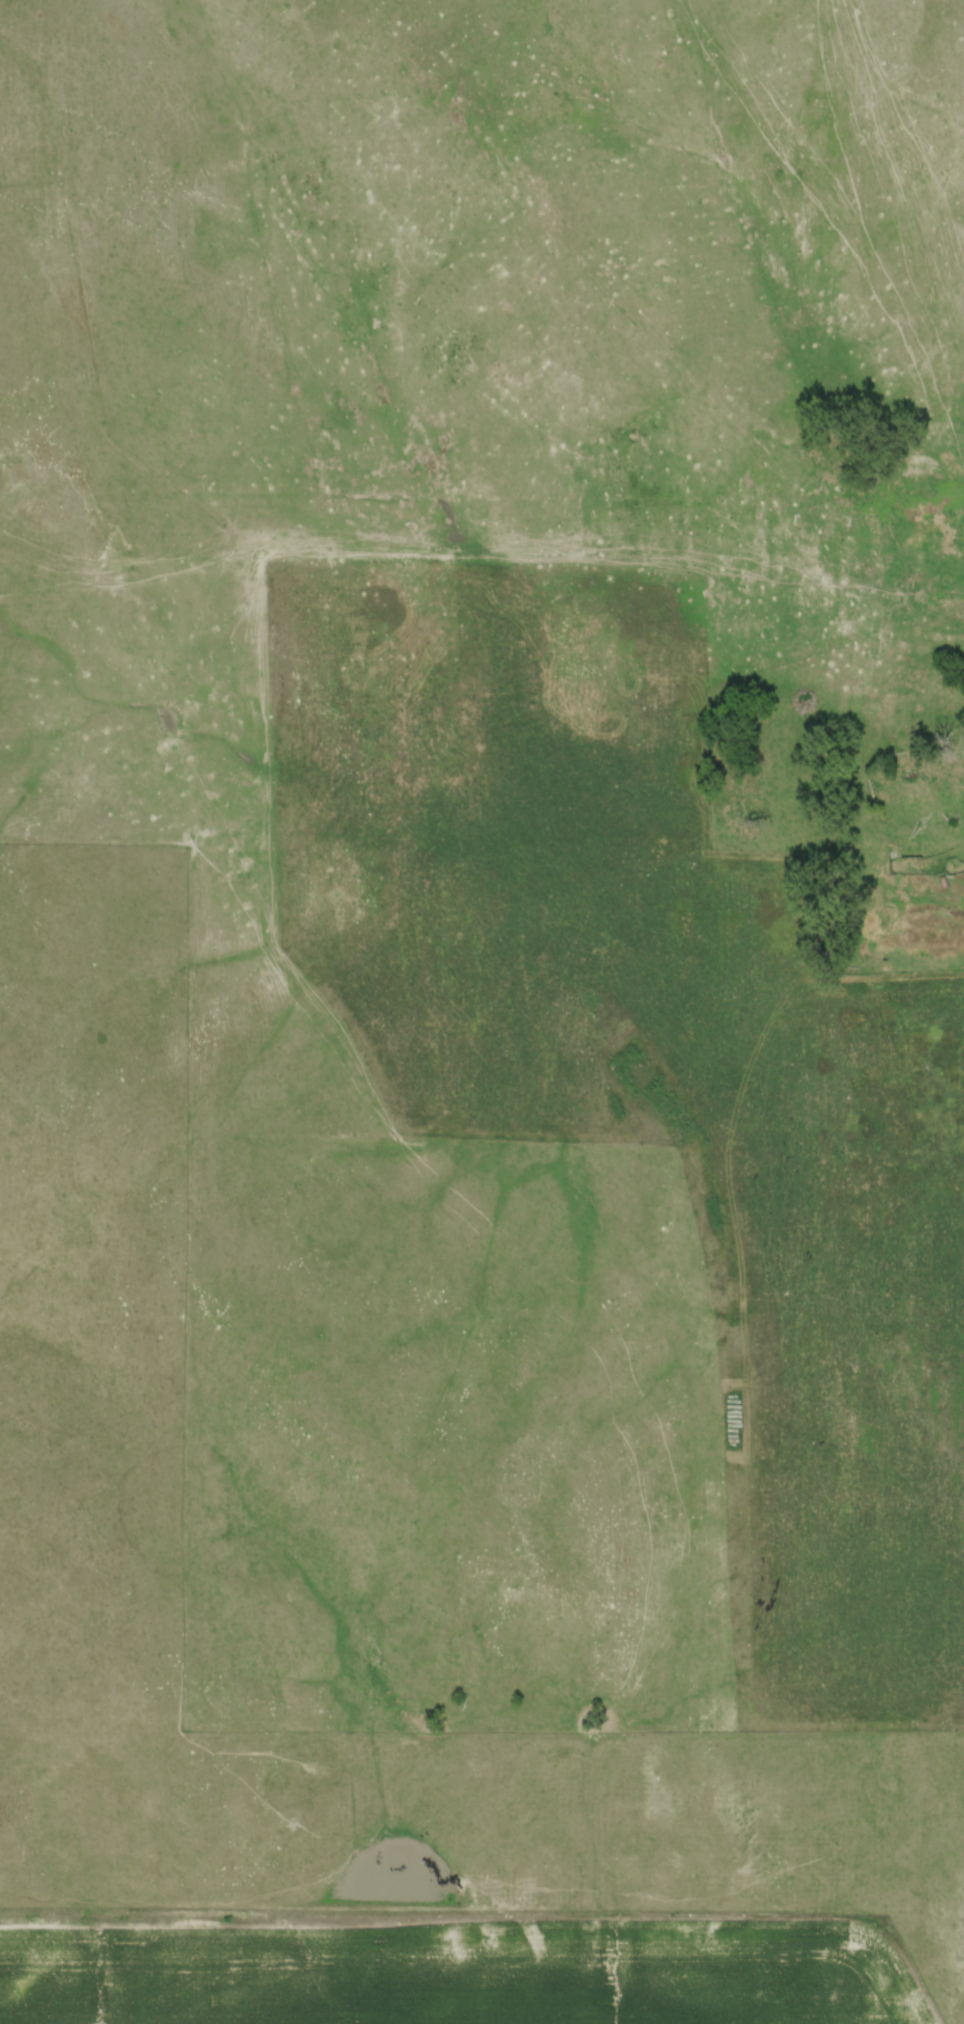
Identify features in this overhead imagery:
road: (914, 897)

